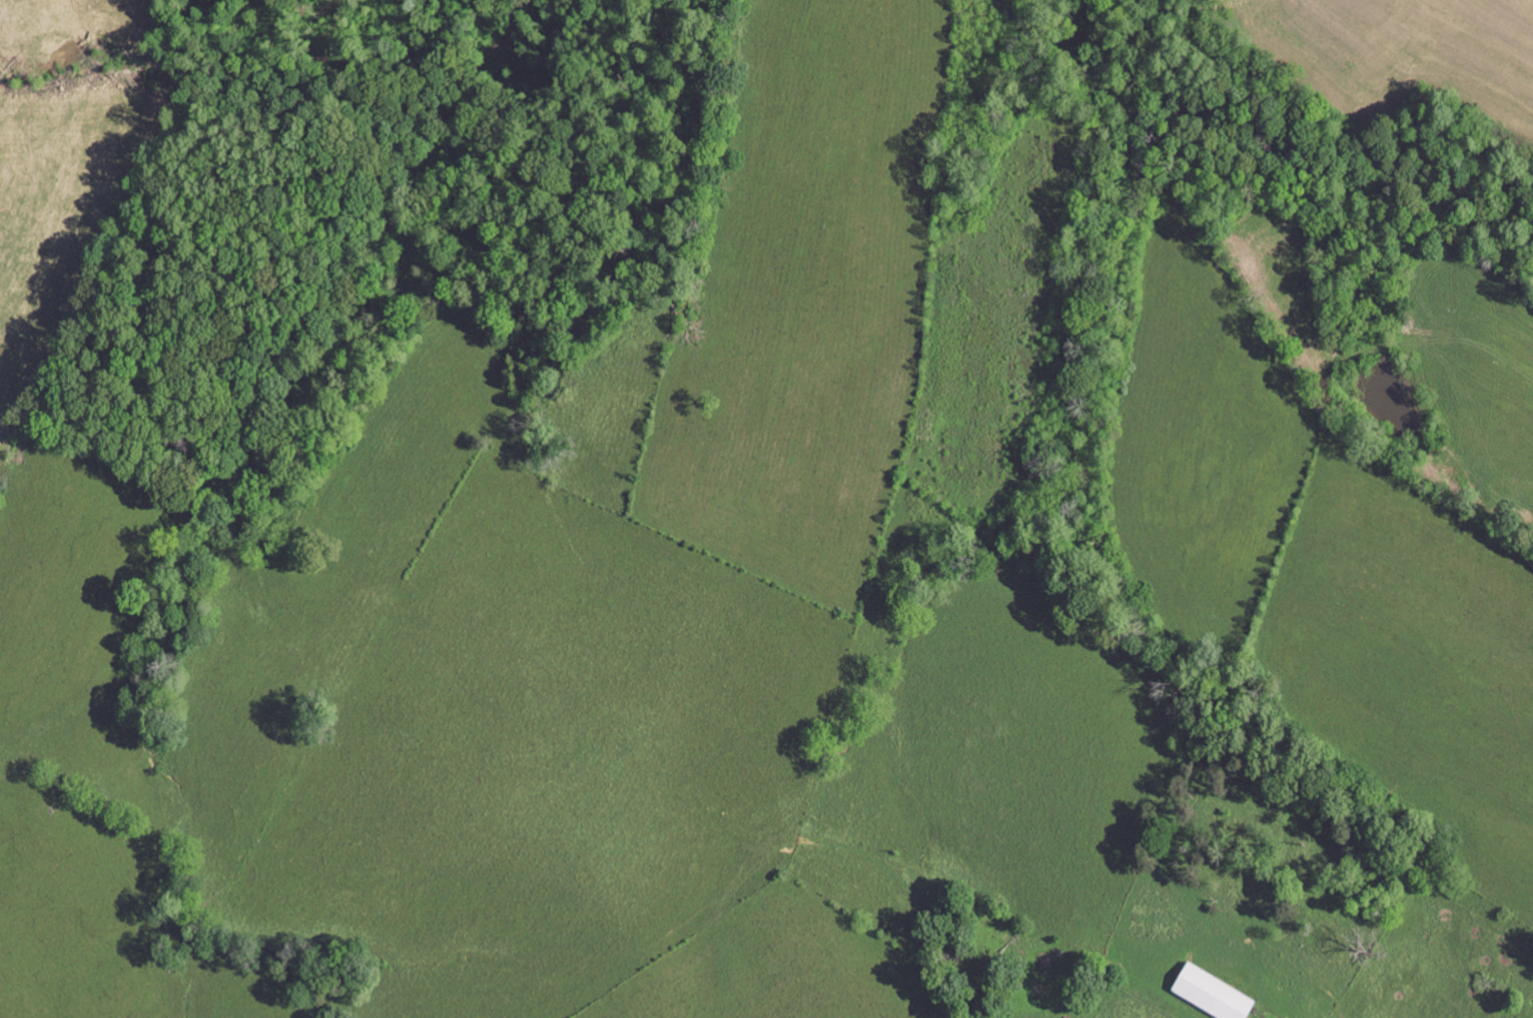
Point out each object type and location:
building: (1214, 993)

